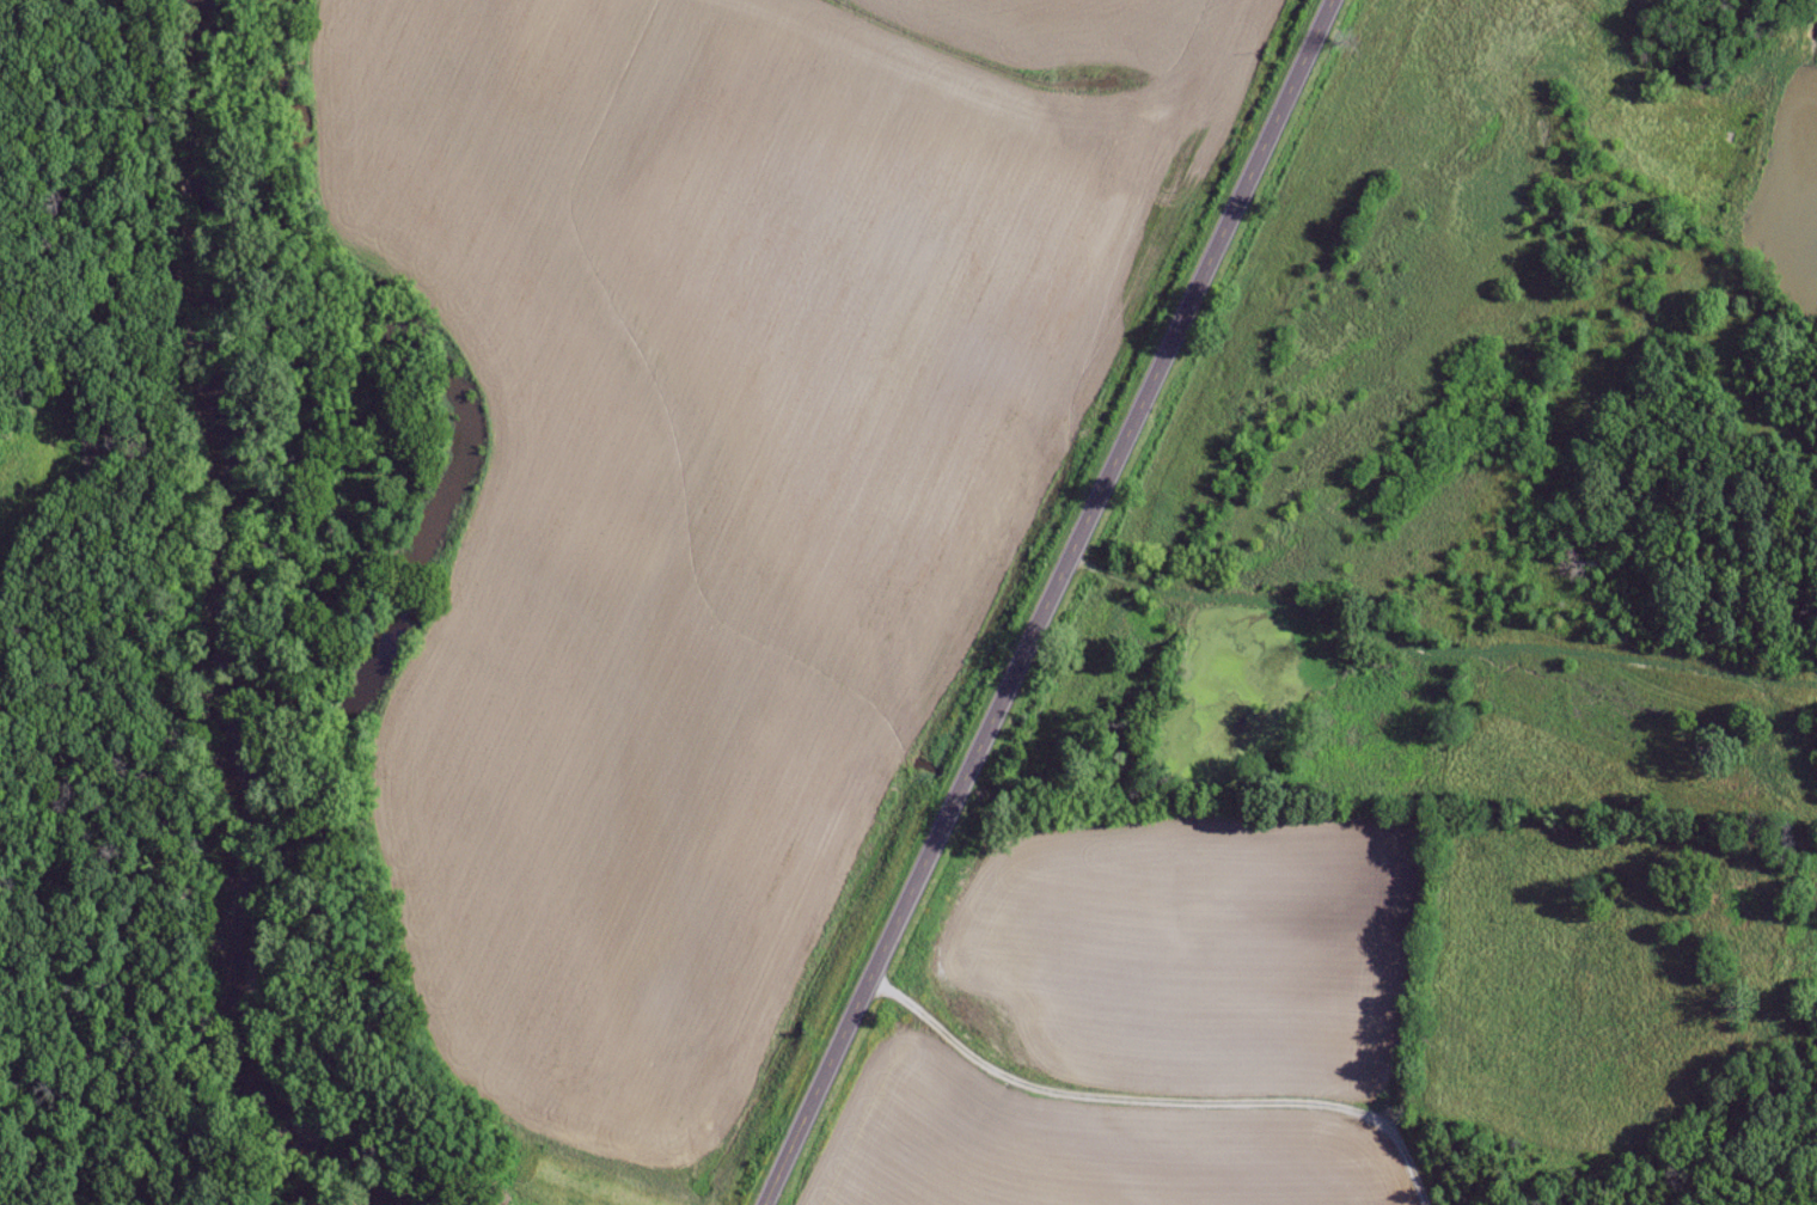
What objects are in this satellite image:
road: (1038, 607)
road: (1500, 652)

